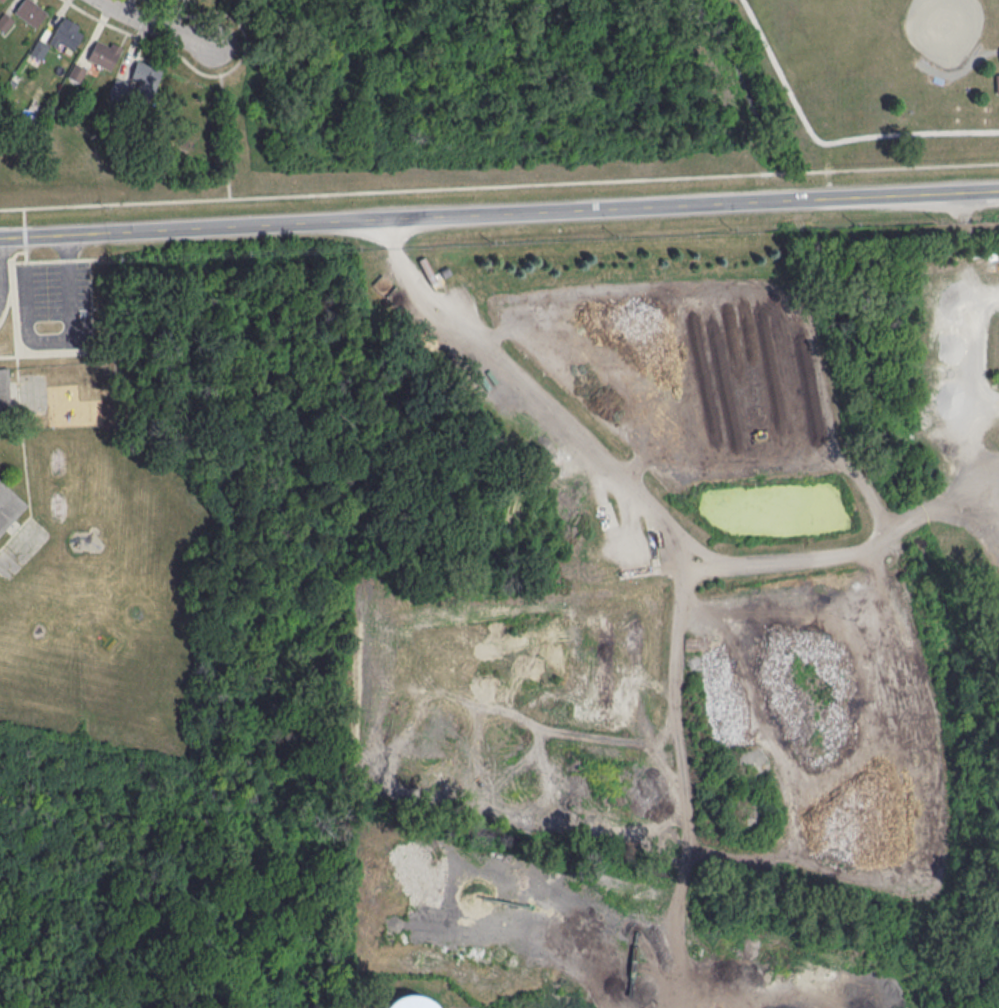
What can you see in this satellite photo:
building: (1, 0)
park: (324, 9)
building: (30, 11)
park: (929, 25)
road: (159, 27)
building: (66, 34)
building: (103, 53)
road: (993, 53)
building: (146, 71)
road: (216, 72)
building: (998, 82)
park: (804, 92)
road: (225, 134)
road: (828, 142)
road: (827, 170)
road: (499, 184)
road: (24, 217)
road: (499, 217)
road: (25, 235)
road: (16, 250)
road: (26, 252)
road: (61, 259)
parking lot: (57, 291)
road: (9, 301)
road: (14, 306)
road: (71, 338)
road: (55, 352)
road: (970, 407)
road: (984, 408)
road: (983, 455)
road: (23, 456)
road: (637, 492)
building: (89, 499)
road: (680, 762)
building: (410, 1002)
storage tank: (411, 1003)

